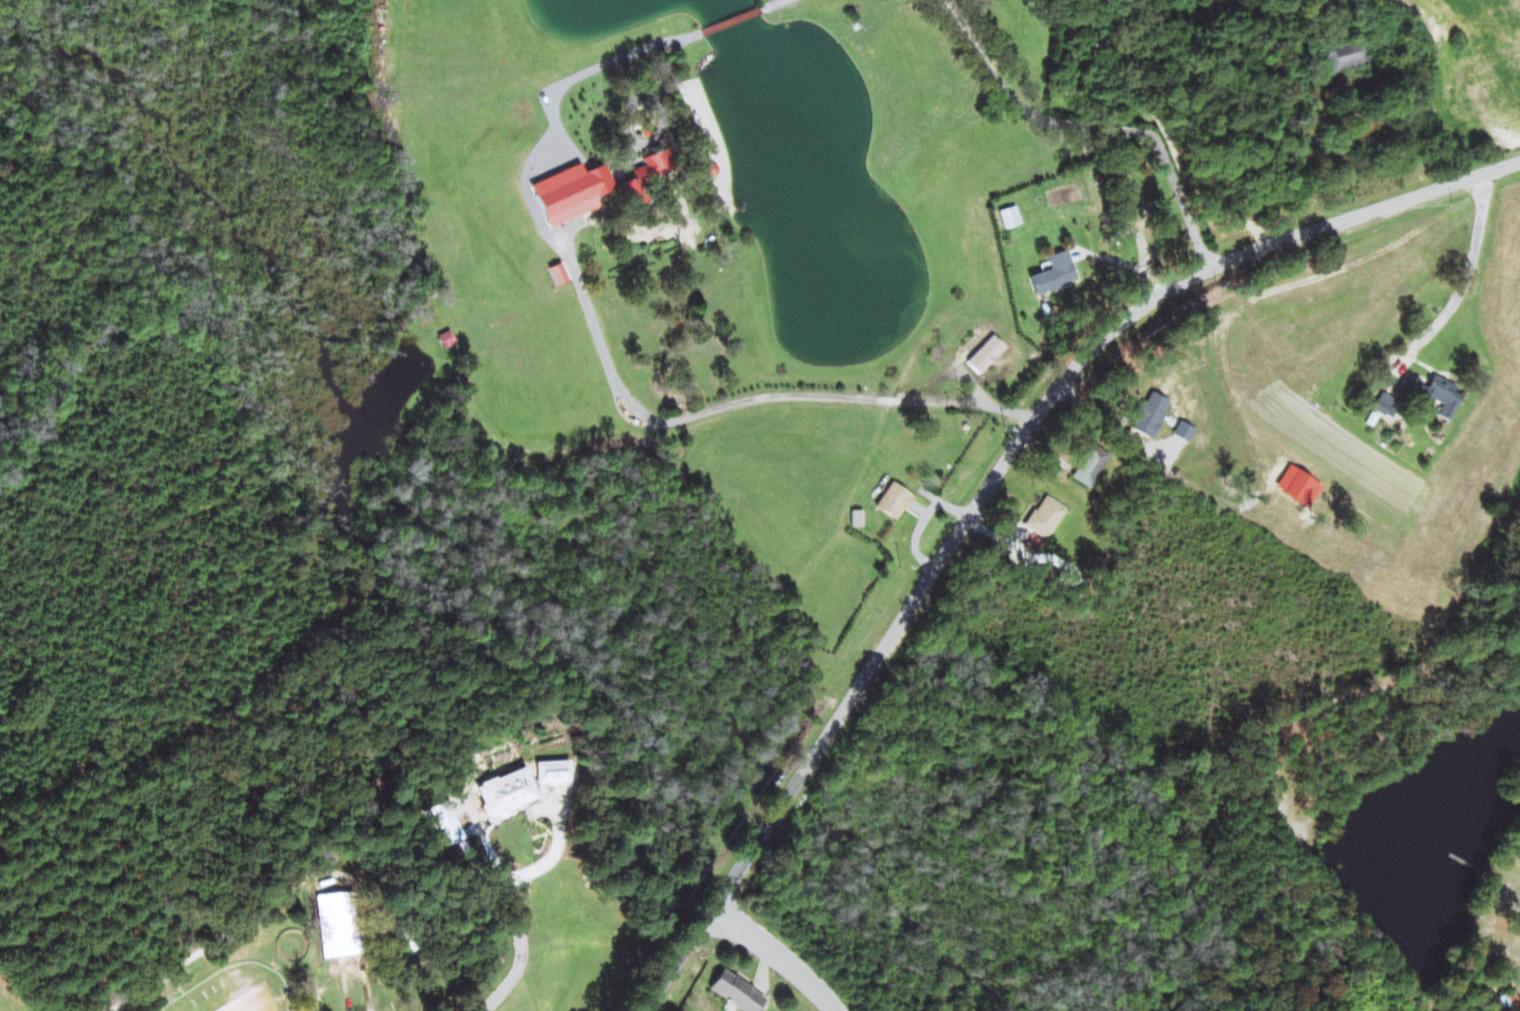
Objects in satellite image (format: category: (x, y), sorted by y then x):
road: (772, 4)
road: (731, 20)
building: (1344, 56)
road: (584, 71)
road: (1141, 85)
road: (1021, 107)
road: (626, 120)
road: (1164, 163)
building: (646, 174)
road: (1209, 189)
building: (570, 191)
building: (1008, 216)
building: (1052, 272)
building: (557, 273)
road: (1137, 292)
building: (981, 351)
road: (1065, 379)
building: (1431, 393)
building: (1148, 413)
building: (1089, 464)
building: (893, 500)
building: (1044, 516)
building: (1291, 522)
building: (551, 771)
building: (506, 791)
building: (437, 811)
road: (713, 908)
building: (335, 924)
road: (780, 953)
building: (736, 991)
building: (1508, 1001)

